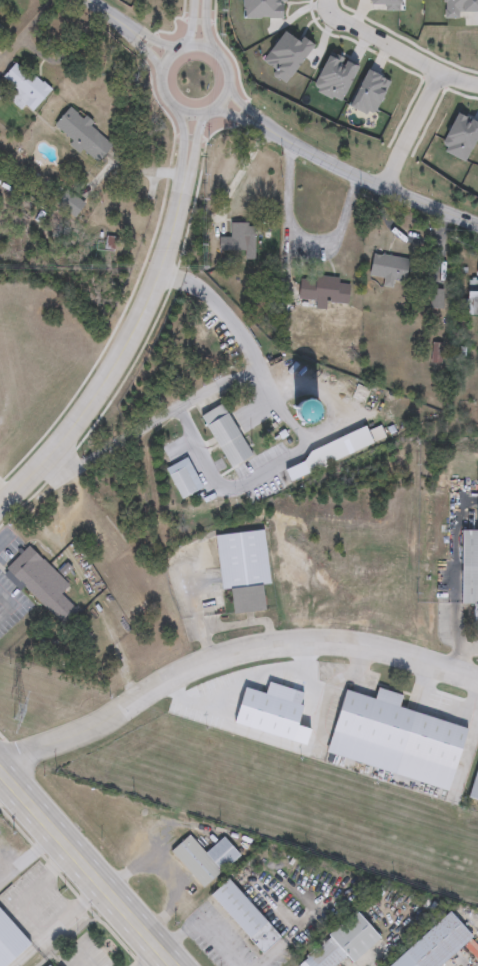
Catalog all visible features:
building: (421, 6)
road: (101, 9)
road: (193, 24)
road: (206, 27)
road: (147, 37)
road: (142, 44)
road: (398, 49)
building: (429, 53)
road: (48, 55)
building: (27, 88)
building: (455, 92)
road: (242, 107)
road: (186, 110)
road: (239, 116)
road: (411, 130)
building: (85, 136)
road: (185, 142)
road: (192, 144)
building: (414, 152)
road: (239, 174)
road: (369, 182)
building: (158, 200)
building: (72, 204)
building: (241, 237)
road: (303, 238)
building: (387, 269)
building: (476, 271)
building: (322, 291)
building: (471, 299)
road: (121, 357)
building: (225, 437)
road: (110, 447)
building: (324, 455)
road: (282, 457)
building: (181, 479)
building: (469, 567)
building: (242, 568)
road: (463, 583)
building: (41, 585)
road: (8, 606)
road: (471, 650)
road: (228, 652)
building: (275, 705)
power tower: (20, 713)
building: (369, 730)
road: (466, 756)
building: (474, 789)
road: (28, 855)
building: (204, 860)
road: (88, 867)
road: (166, 876)
road: (209, 910)
building: (244, 918)
road: (57, 924)
building: (11, 938)
road: (285, 939)
building: (343, 944)
building: (436, 945)
road: (150, 958)
road: (471, 963)

